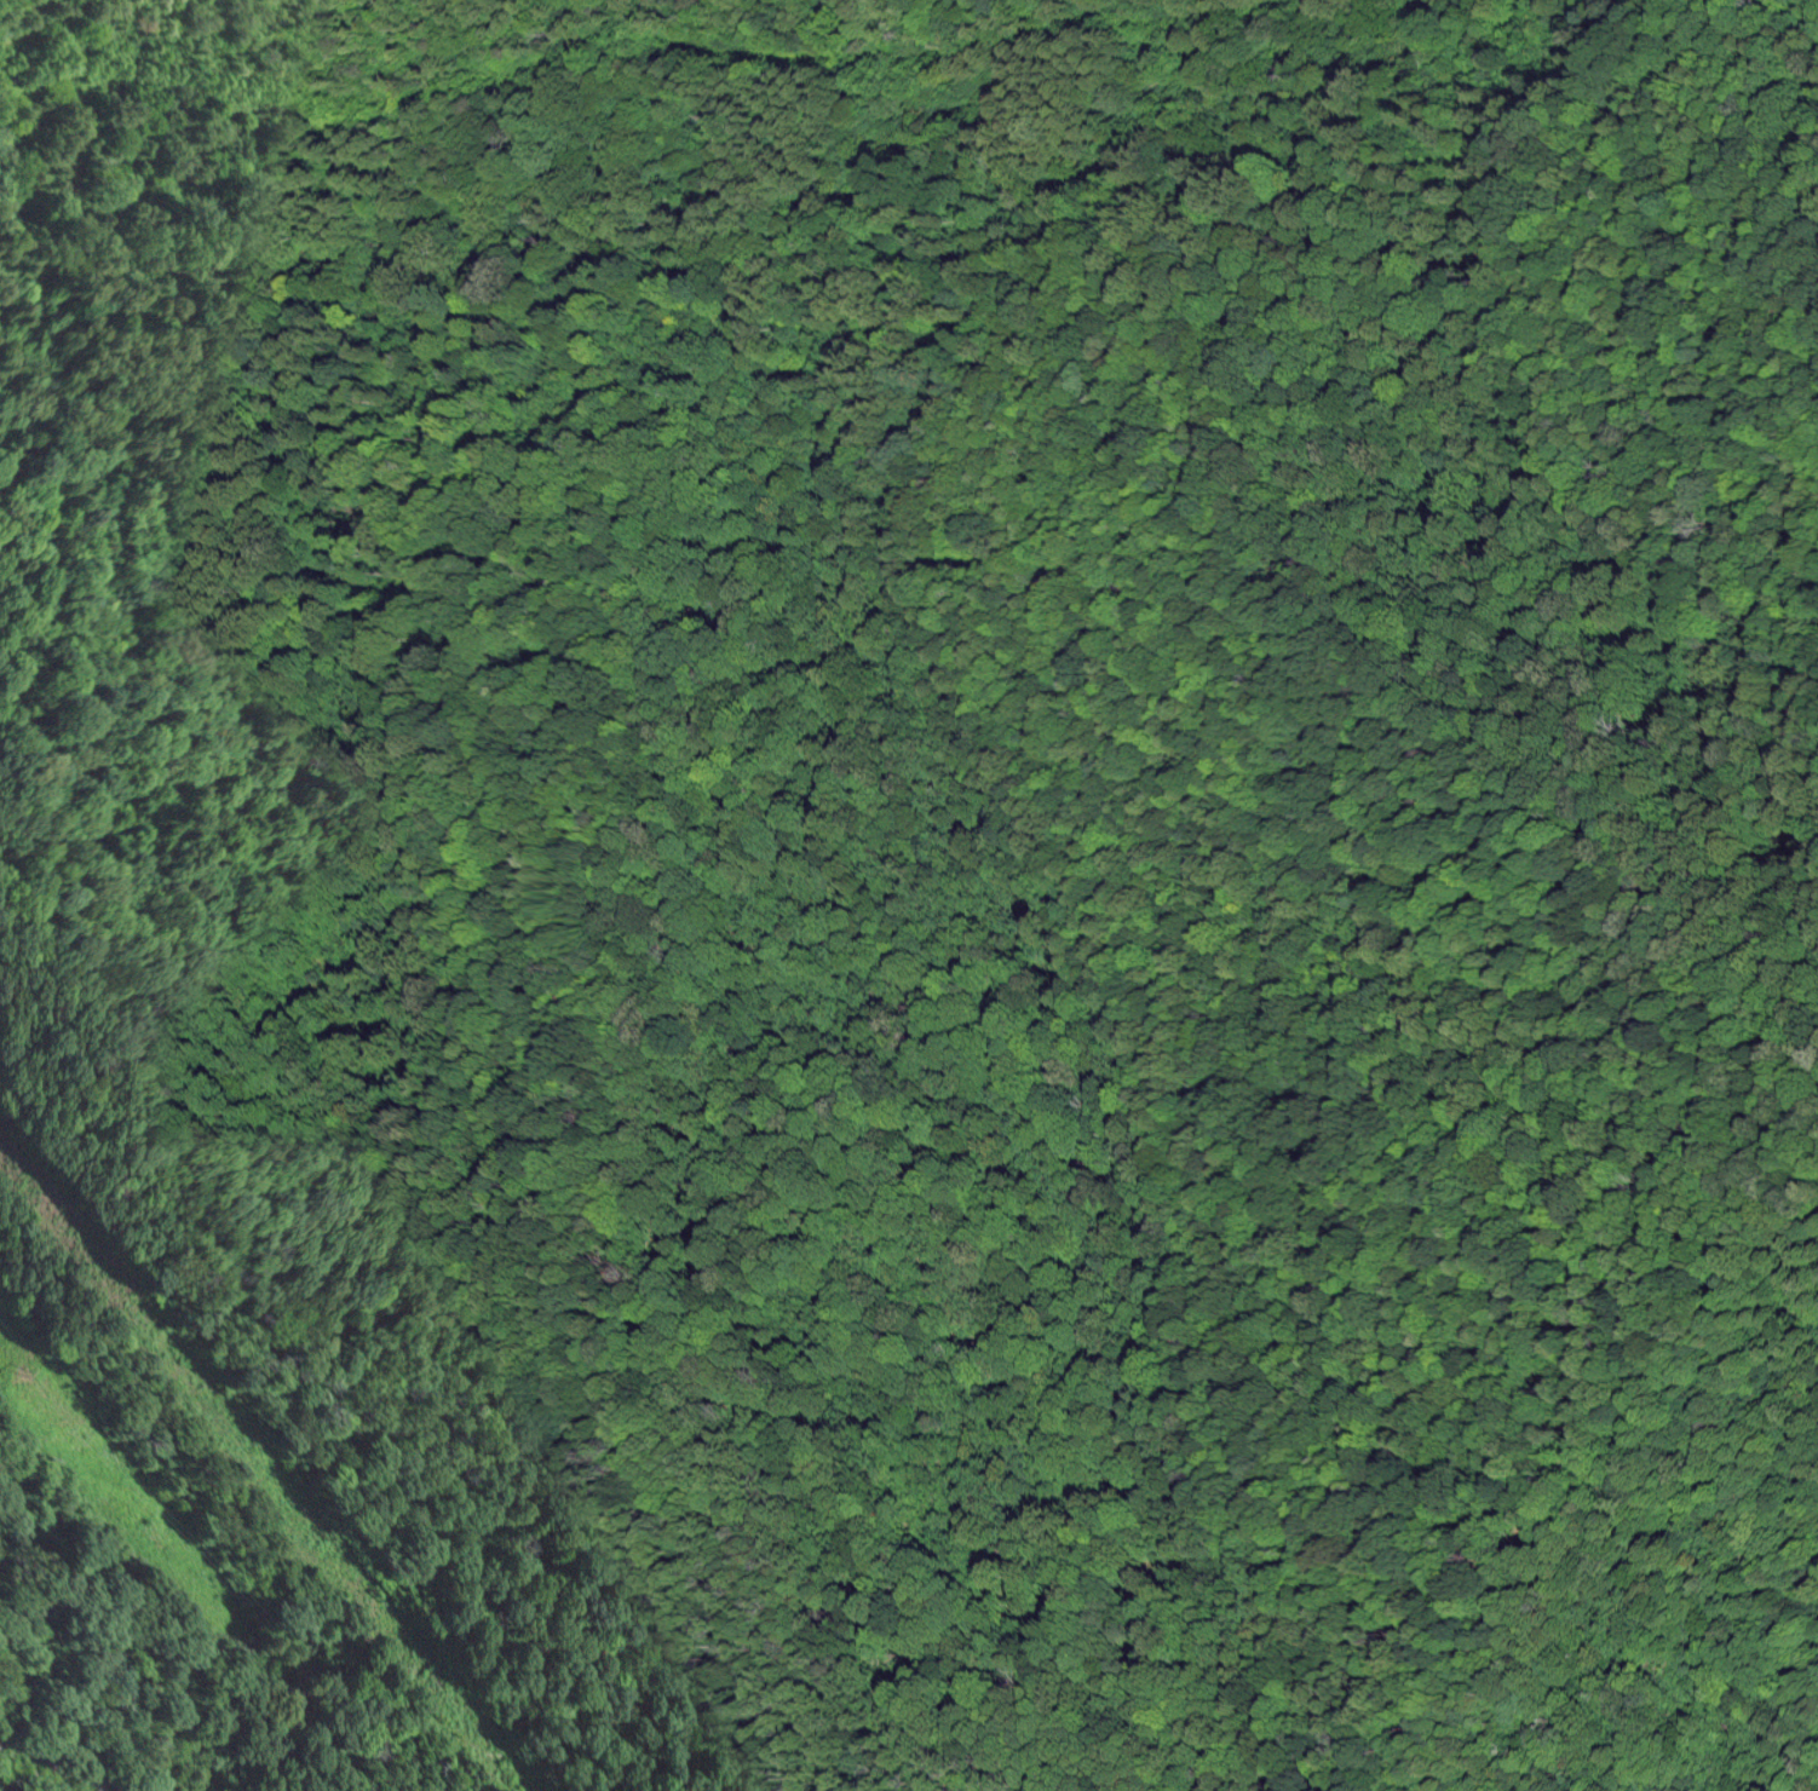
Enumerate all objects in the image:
road: (15, 2)
road: (35, 1774)

